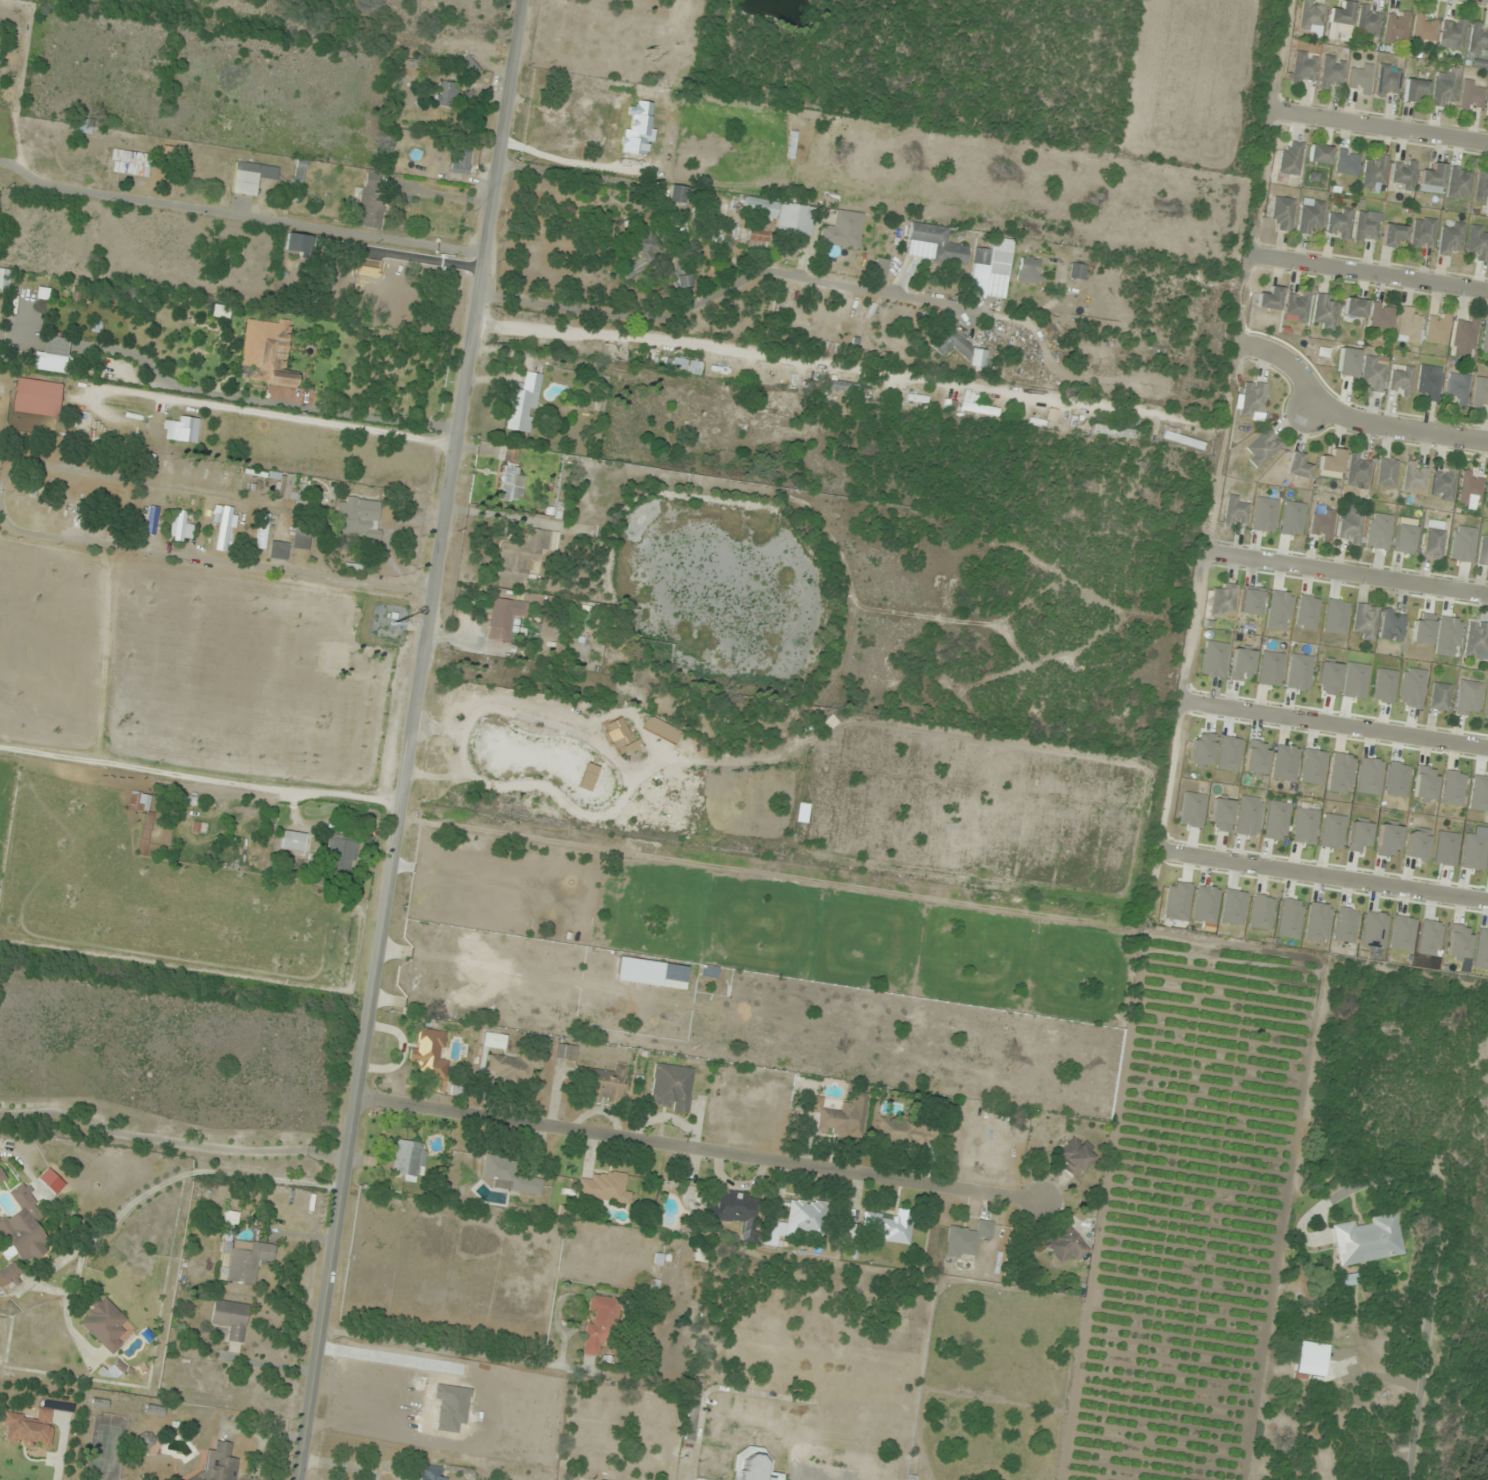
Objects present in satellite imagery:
building: (1342, 14)
building: (1312, 18)
building: (1368, 22)
building: (1397, 28)
building: (1424, 30)
building: (1453, 34)
building: (1478, 39)
building: (469, 67)
building: (1303, 67)
building: (1332, 72)
building: (1361, 80)
building: (1388, 80)
building: (1445, 88)
building: (1415, 90)
building: (446, 94)
building: (1471, 96)
building: (576, 103)
road: (1381, 124)
building: (82, 129)
building: (563, 139)
building: (1319, 155)
building: (1290, 158)
building: (463, 160)
building: (1348, 163)
building: (130, 164)
building: (1375, 174)
building: (1403, 176)
building: (250, 177)
building: (1432, 180)
building: (1459, 184)
building: (1482, 188)
building: (677, 194)
building: (371, 201)
building: (1282, 214)
building: (781, 216)
building: (1310, 217)
building: (1339, 225)
building: (1366, 226)
building: (843, 231)
building: (1392, 234)
building: (1422, 235)
building: (758, 238)
building: (1451, 238)
building: (292, 243)
building: (1478, 243)
building: (940, 244)
building: (643, 255)
building: (993, 268)
building: (1028, 269)
building: (1077, 272)
road: (1371, 273)
building: (23, 276)
building: (349, 278)
building: (4, 279)
building: (684, 282)
building: (1270, 300)
building: (1298, 306)
building: (1354, 308)
building: (1324, 313)
building: (1382, 316)
building: (1409, 326)
building: (1437, 329)
building: (1465, 333)
building: (1485, 341)
building: (958, 347)
building: (267, 353)
building: (52, 357)
building: (686, 365)
building: (1373, 374)
building: (1401, 381)
building: (1429, 384)
building: (840, 387)
building: (1456, 390)
building: (1481, 393)
building: (1253, 400)
building: (37, 404)
building: (523, 404)
building: (980, 410)
building: (691, 412)
building: (768, 419)
road: (1353, 421)
building: (181, 430)
building: (1117, 432)
building: (1184, 441)
building: (1262, 449)
building: (1332, 462)
building: (1297, 467)
building: (1358, 471)
building: (1386, 472)
building: (227, 478)
building: (1414, 479)
building: (508, 484)
building: (1443, 485)
building: (288, 487)
building: (1470, 488)
building: (29, 503)
building: (120, 503)
building: (1487, 503)
building: (1235, 512)
building: (357, 519)
building: (151, 521)
building: (1349, 525)
building: (1322, 526)
building: (180, 528)
building: (224, 529)
building: (263, 532)
building: (301, 540)
building: (1433, 544)
building: (278, 551)
building: (524, 554)
road: (1349, 573)
building: (1223, 602)
building: (504, 619)
building: (1364, 622)
building: (1391, 626)
building: (1476, 639)
building: (1438, 697)
building: (1467, 699)
road: (1336, 723)
road: (409, 740)
building: (1201, 749)
building: (1479, 794)
building: (187, 800)
building: (148, 827)
building: (292, 841)
building: (340, 857)
road: (1329, 876)
building: (1177, 902)
building: (1290, 919)
building: (1318, 923)
building: (1346, 925)
building: (1374, 930)
building: (1403, 934)
building: (1429, 938)
building: (1459, 942)
building: (1481, 949)
building: (566, 1052)
building: (429, 1055)
building: (510, 1068)
building: (604, 1084)
building: (671, 1087)
building: (840, 1117)
building: (905, 1134)
building: (1074, 1157)
building: (408, 1160)
building: (2, 1175)
building: (509, 1176)
building: (603, 1188)
building: (737, 1211)
building: (806, 1218)
building: (890, 1227)
building: (23, 1229)
building: (967, 1240)
building: (1367, 1240)
building: (1066, 1245)
building: (244, 1254)
building: (9, 1275)
building: (230, 1319)
building: (601, 1324)
building: (106, 1325)
building: (115, 1369)
building: (1338, 1369)
building: (154, 1410)
building: (691, 1422)
building: (29, 1429)
building: (220, 1463)
building: (753, 1465)
building: (430, 1473)
building: (184, 1479)
building: (699, 1479)

